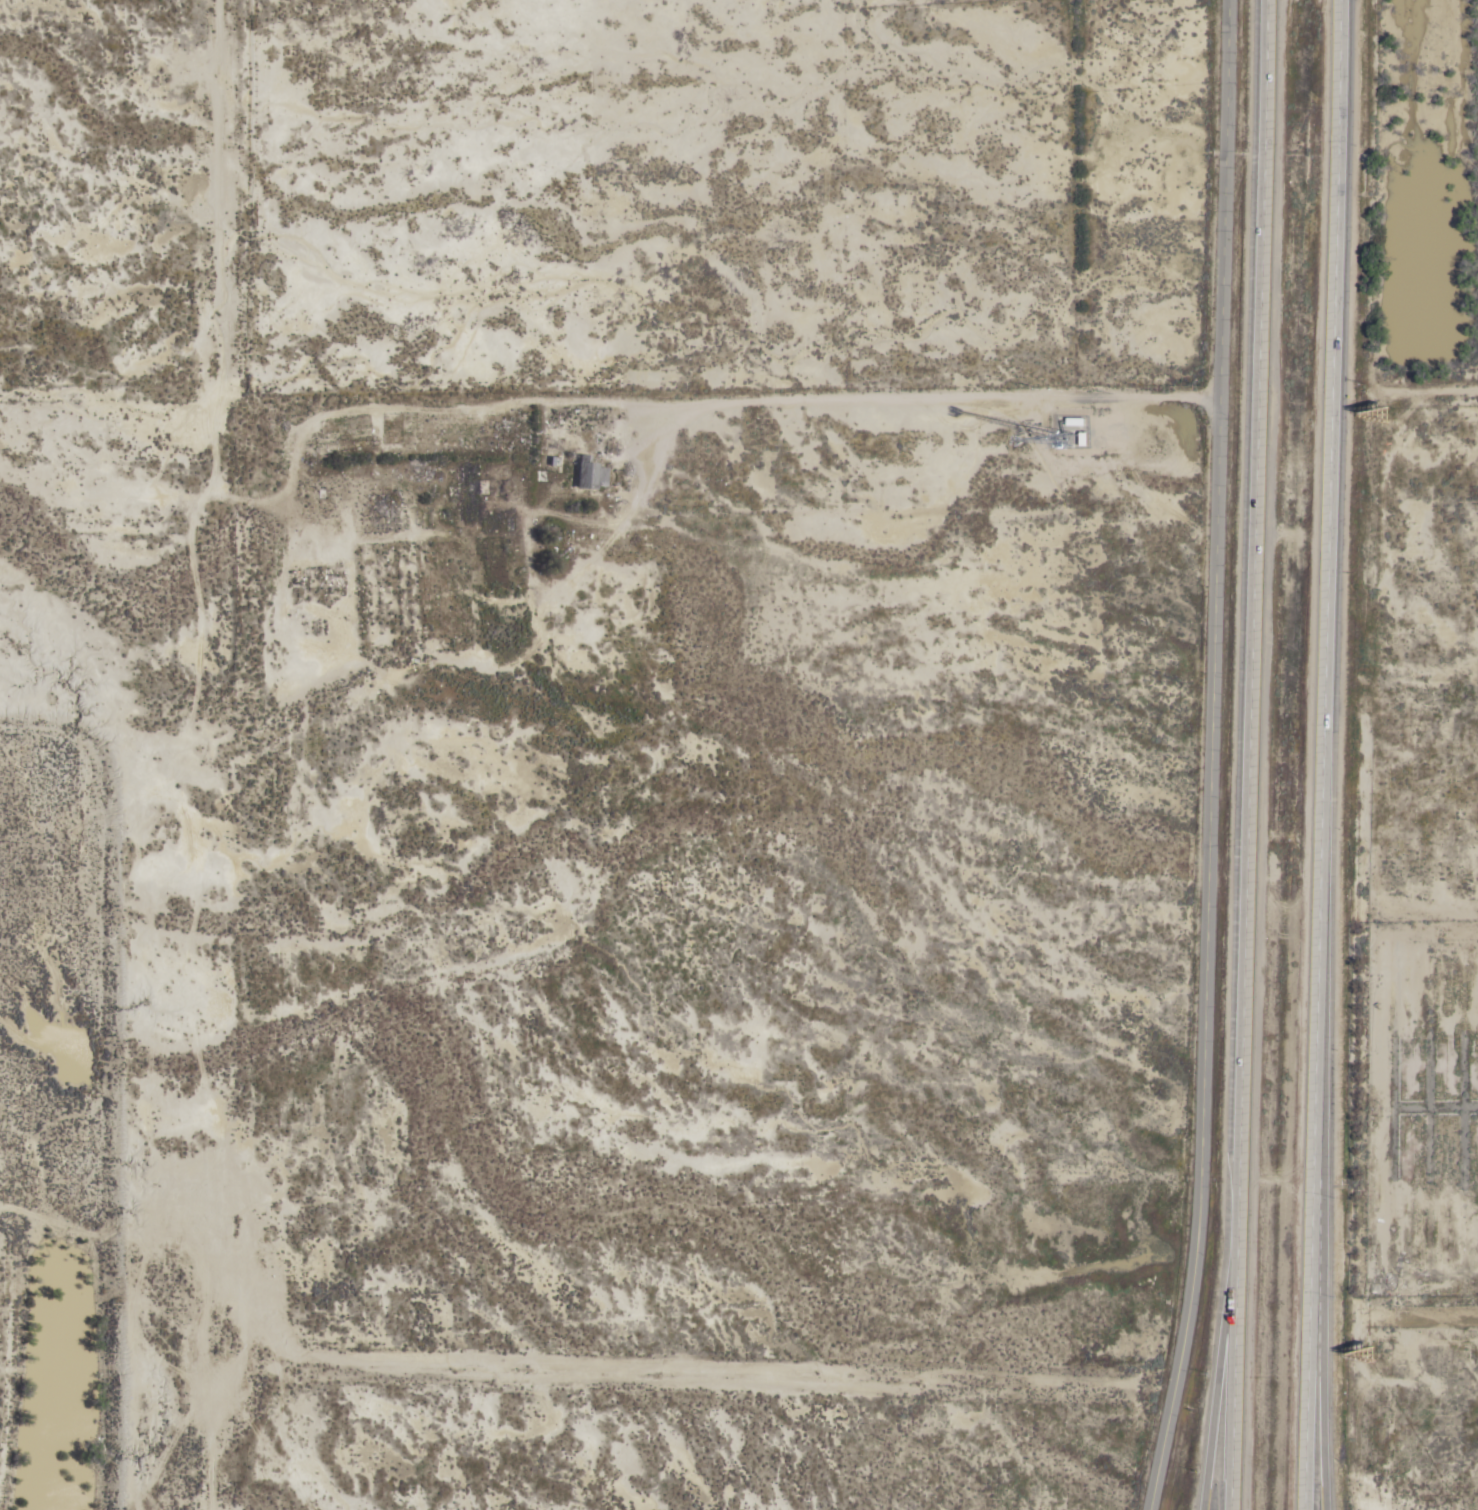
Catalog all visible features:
road: (224, 196)
road: (894, 401)
road: (314, 422)
building: (587, 476)
road: (1328, 589)
road: (1253, 635)
road: (1211, 757)
road: (1309, 1344)
road: (1320, 1344)
road: (1219, 1390)
road: (1235, 1390)

